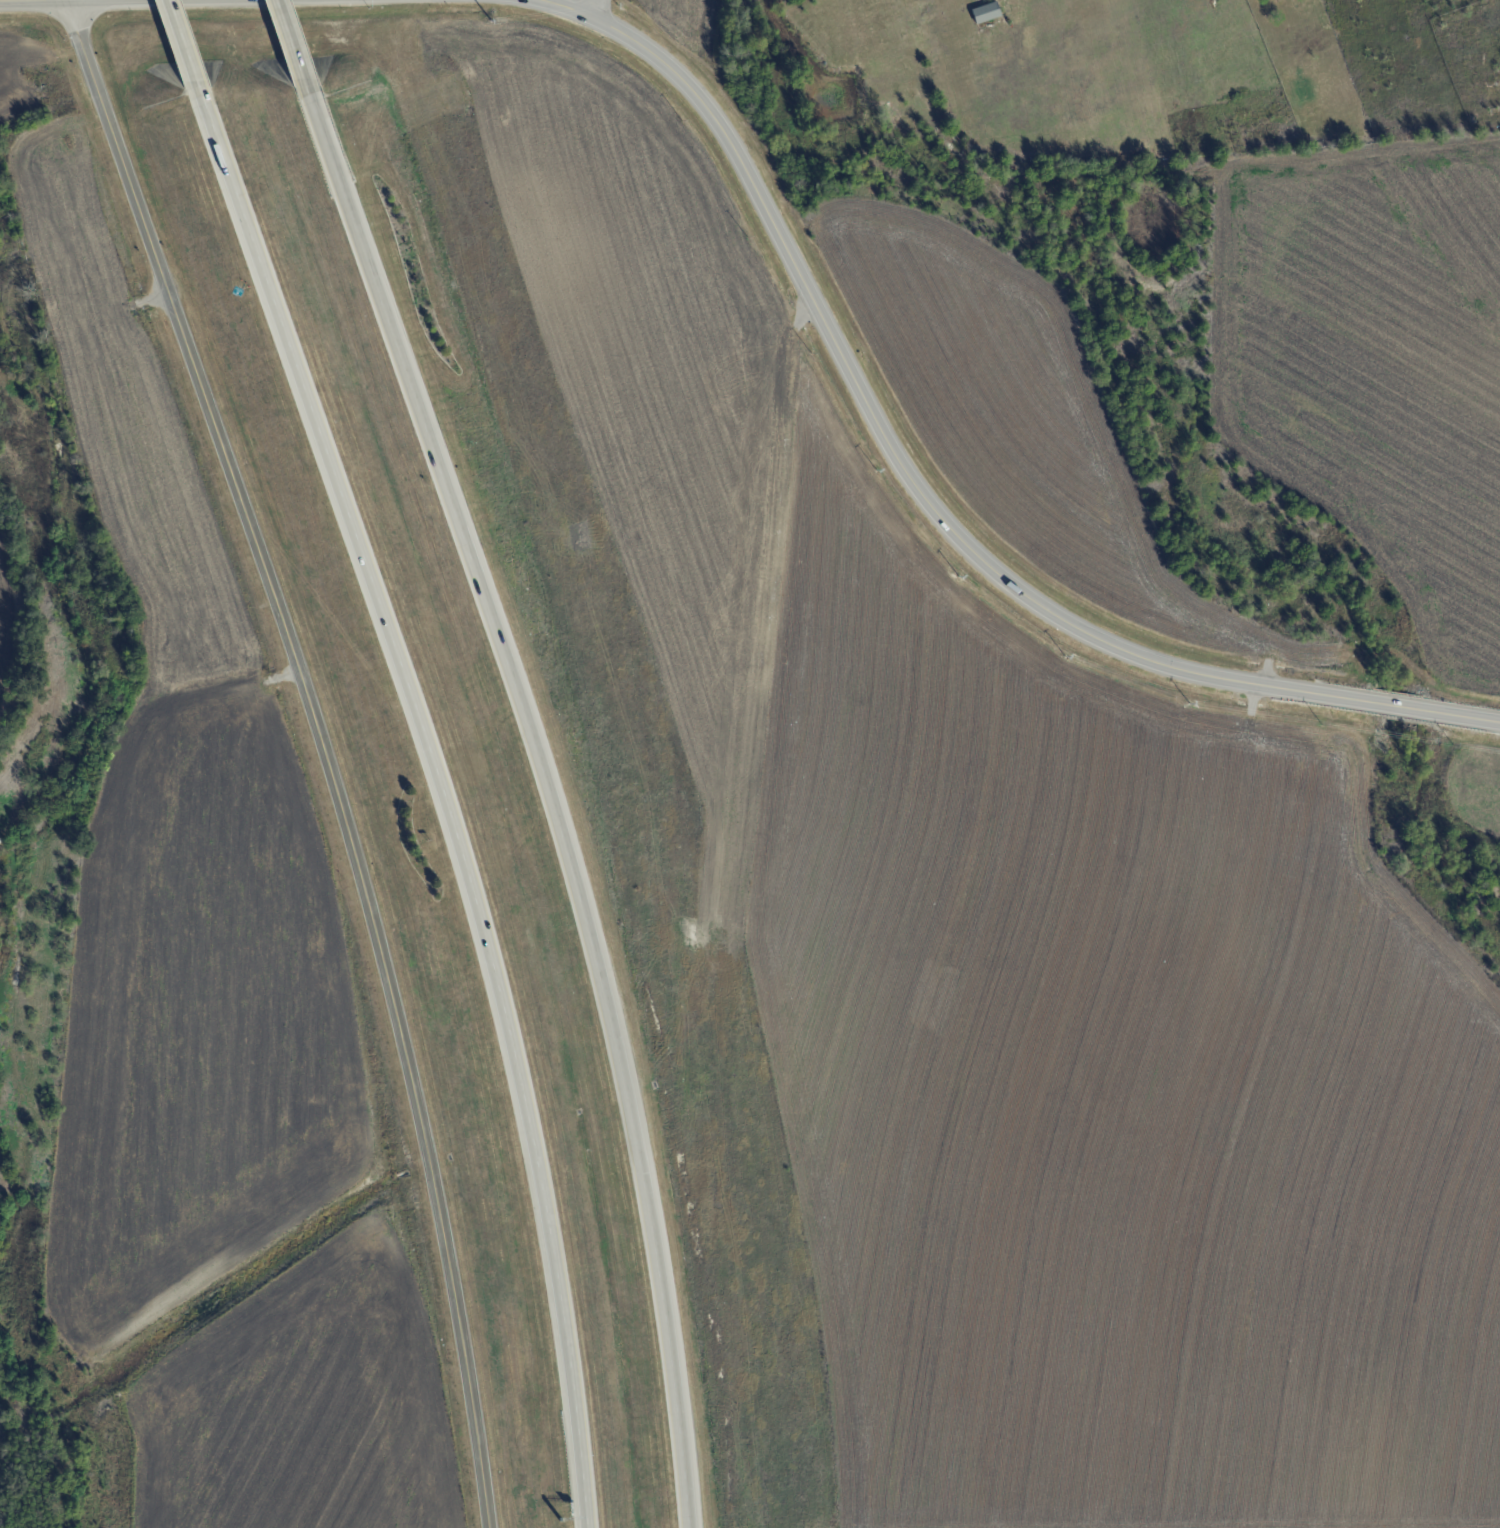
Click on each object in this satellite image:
road: (64, 0)
road: (51, 1)
road: (567, 7)
road: (592, 7)
building: (985, 12)
road: (180, 47)
road: (293, 48)
road: (940, 509)
road: (326, 751)
road: (444, 797)
road: (557, 797)

